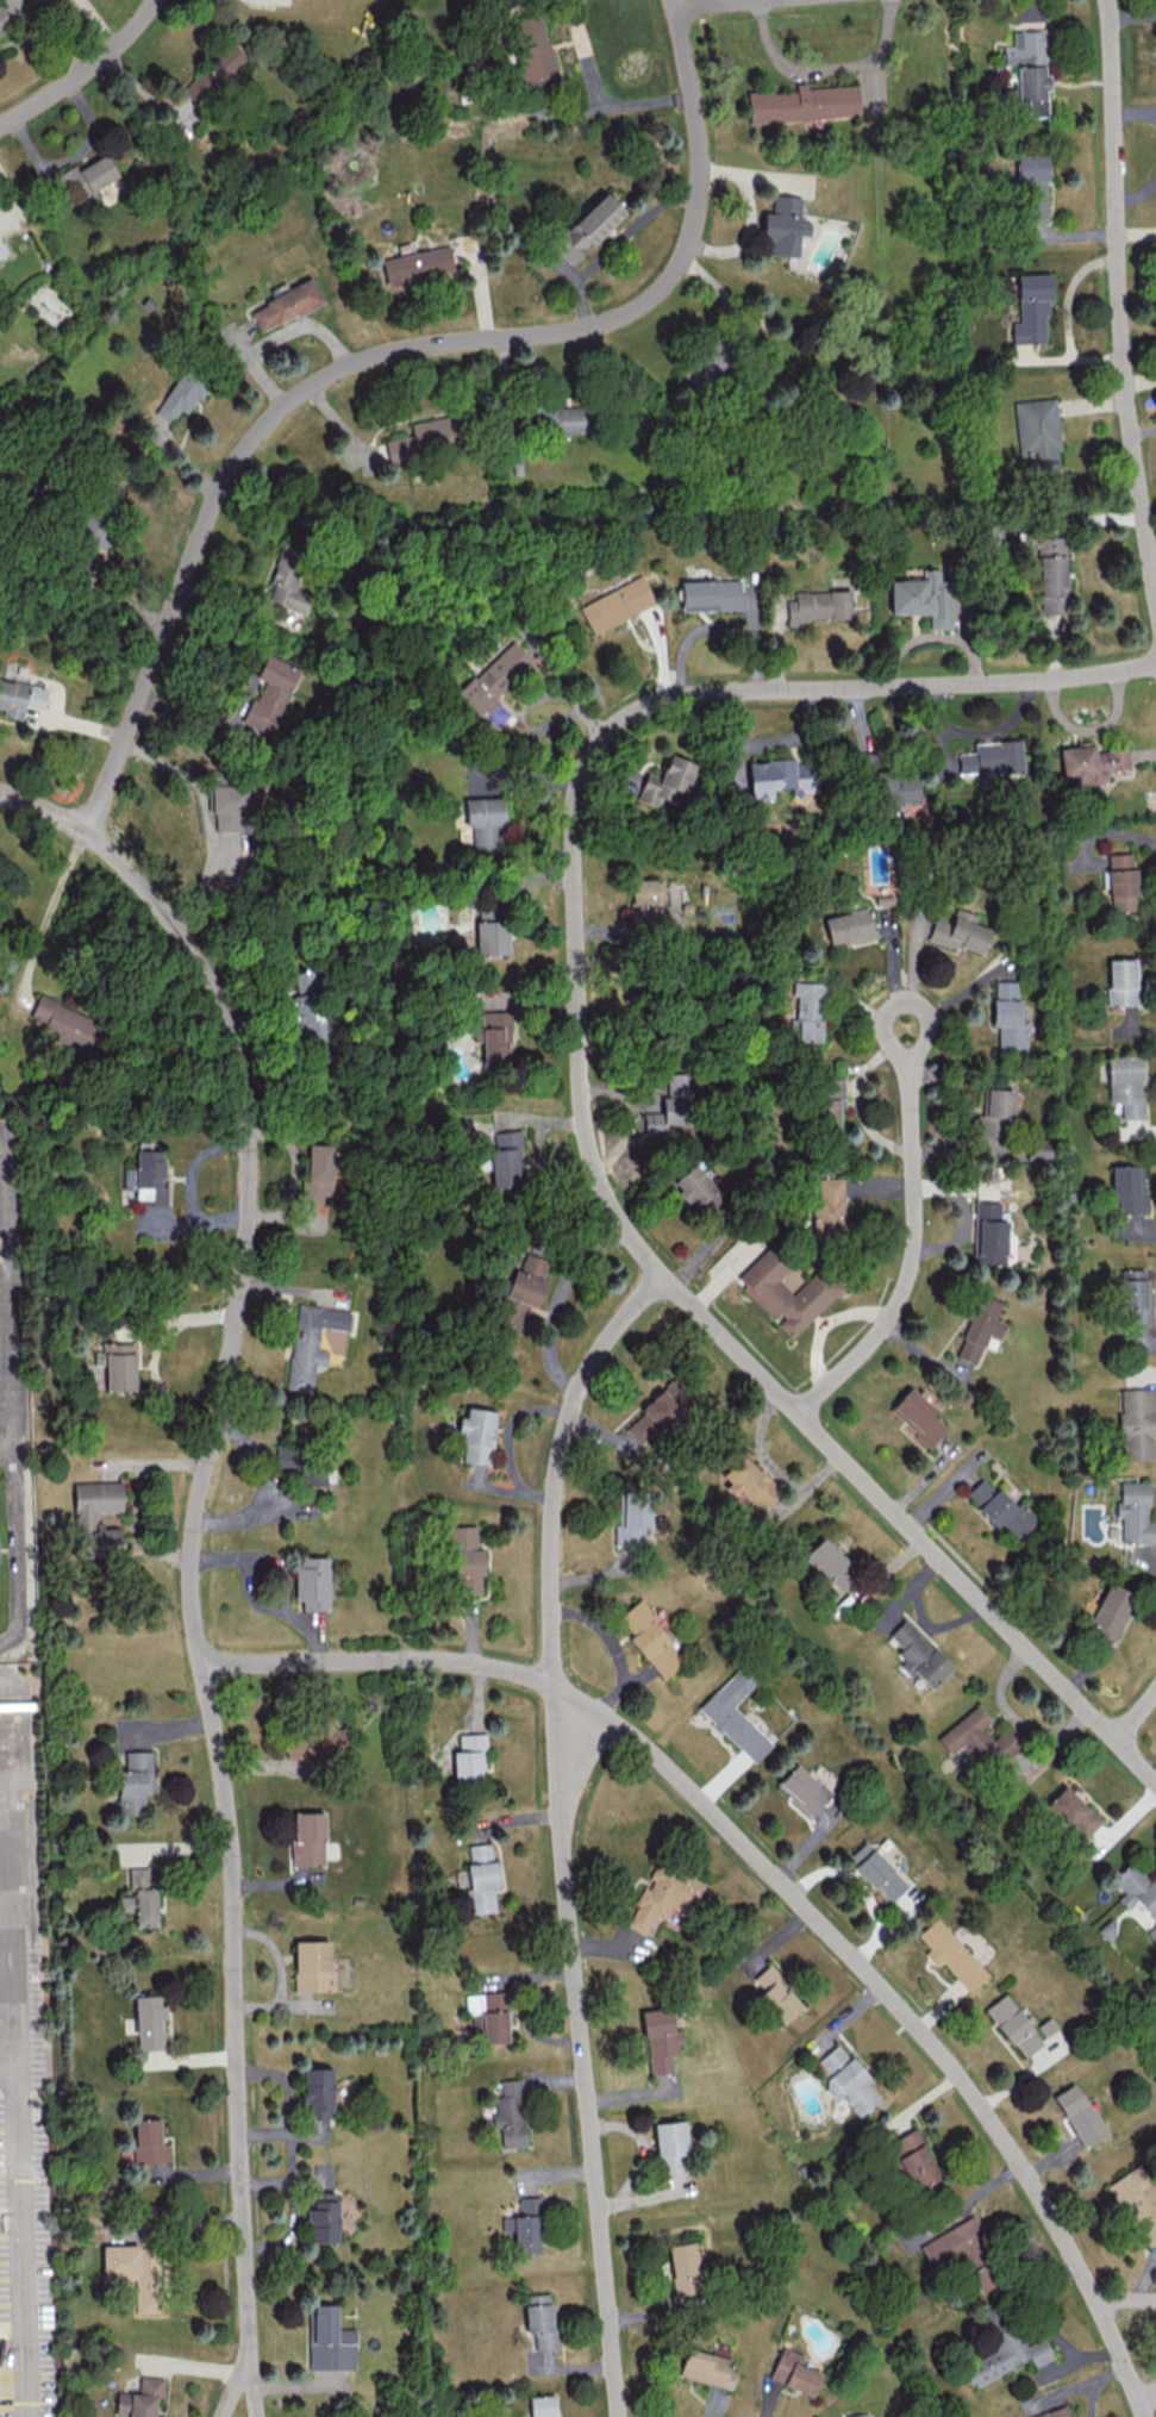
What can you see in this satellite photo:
road: (707, 2)
building: (0, 32)
road: (45, 42)
building: (532, 52)
road: (81, 68)
building: (1029, 70)
road: (842, 79)
road: (598, 94)
building: (804, 102)
building: (87, 179)
building: (1032, 183)
building: (783, 226)
building: (587, 227)
road: (614, 245)
building: (417, 264)
road: (1120, 302)
building: (286, 305)
building: (1031, 310)
road: (386, 361)
building: (179, 396)
building: (557, 417)
building: (1037, 433)
building: (425, 437)
building: (1051, 574)
building: (288, 580)
building: (710, 594)
building: (923, 598)
building: (616, 604)
building: (819, 605)
road: (711, 625)
building: (494, 677)
road: (905, 682)
building: (270, 693)
building: (19, 698)
building: (991, 757)
building: (1091, 762)
building: (781, 776)
building: (667, 782)
building: (898, 787)
building: (232, 806)
building: (485, 822)
building: (1121, 881)
building: (848, 926)
building: (960, 931)
building: (490, 937)
building: (1121, 981)
road: (902, 998)
building: (807, 1010)
building: (306, 1016)
building: (1010, 1016)
building: (65, 1022)
building: (494, 1039)
building: (1125, 1085)
building: (827, 1101)
building: (670, 1105)
building: (506, 1158)
building: (318, 1170)
building: (150, 1176)
building: (694, 1185)
building: (1127, 1188)
building: (826, 1210)
building: (987, 1234)
road: (910, 1261)
building: (786, 1291)
building: (1133, 1297)
road: (6, 1299)
building: (518, 1299)
road: (557, 1300)
road: (688, 1305)
building: (979, 1326)
building: (311, 1342)
building: (117, 1364)
building: (657, 1412)
building: (917, 1416)
building: (1136, 1423)
building: (476, 1435)
building: (311, 1475)
building: (748, 1481)
road: (133, 1499)
building: (998, 1507)
building: (1135, 1513)
building: (633, 1516)
building: (96, 1517)
road: (194, 1549)
road: (12, 1550)
building: (465, 1559)
building: (831, 1562)
building: (312, 1581)
building: (1110, 1610)
building: (650, 1640)
building: (917, 1654)
building: (733, 1716)
road: (1138, 1718)
parking lot: (20, 1732)
building: (968, 1734)
road: (4, 1740)
building: (315, 1740)
building: (469, 1759)
building: (135, 1781)
building: (802, 1788)
road: (5, 1794)
building: (1073, 1811)
road: (562, 1832)
building: (307, 1838)
building: (876, 1870)
road: (13, 1874)
building: (138, 1876)
building: (479, 1879)
road: (780, 1879)
road: (860, 1886)
building: (1136, 1888)
building: (663, 1897)
building: (140, 1905)
building: (1155, 1936)
building: (951, 1954)
building: (313, 1966)
road: (280, 1972)
building: (777, 1994)
building: (488, 2015)
building: (149, 2023)
building: (1013, 2025)
building: (1046, 2025)
building: (658, 2038)
road: (10, 2067)
building: (846, 2080)
building: (318, 2092)
building: (510, 2113)
building: (1079, 2113)
building: (149, 2141)
building: (669, 2144)
building: (916, 2159)
building: (1137, 2200)
building: (323, 2218)
building: (527, 2225)
road: (23, 2242)
building: (954, 2247)
building: (136, 2262)
building: (685, 2268)
road: (1125, 2299)
building: (539, 2319)
building: (330, 2341)
building: (1006, 2355)
building: (707, 2367)
building: (794, 2371)
road: (1146, 2397)
building: (139, 2398)
building: (542, 2405)
building: (1057, 2412)
building: (858, 2415)

